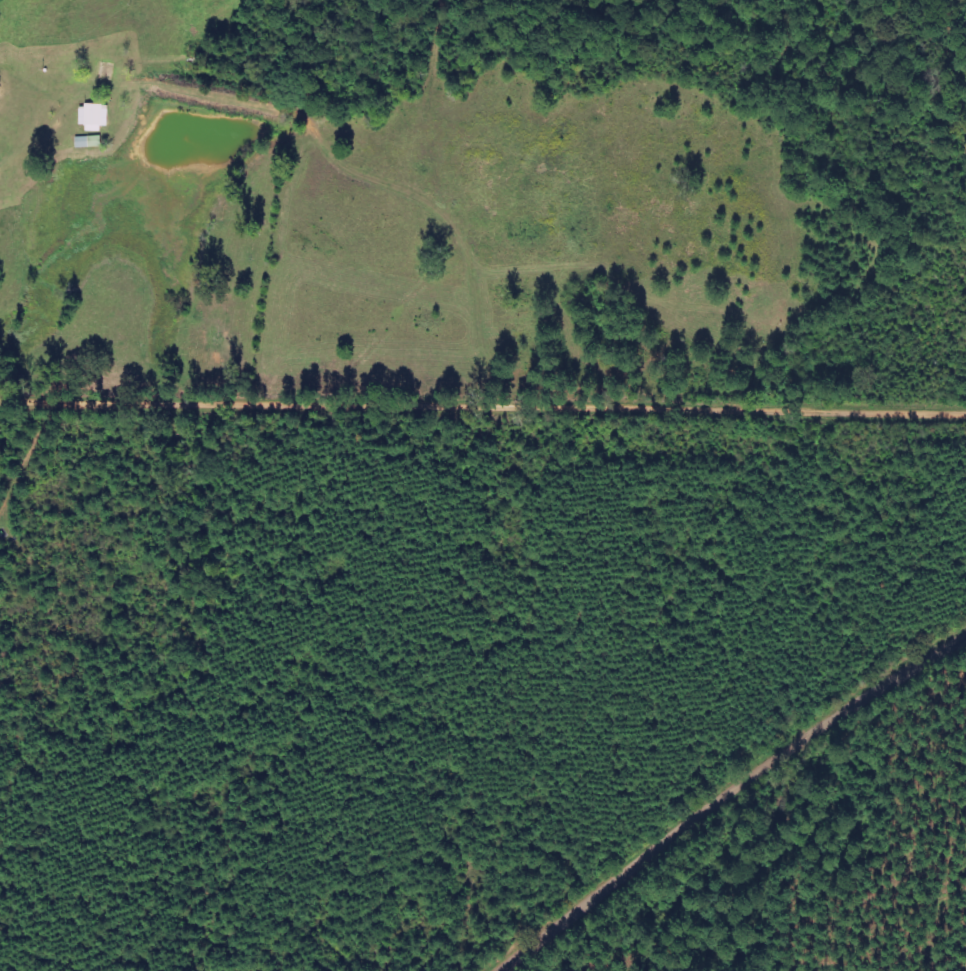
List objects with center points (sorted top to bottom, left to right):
building: (95, 117)
building: (90, 142)
road: (483, 434)
road: (741, 800)

